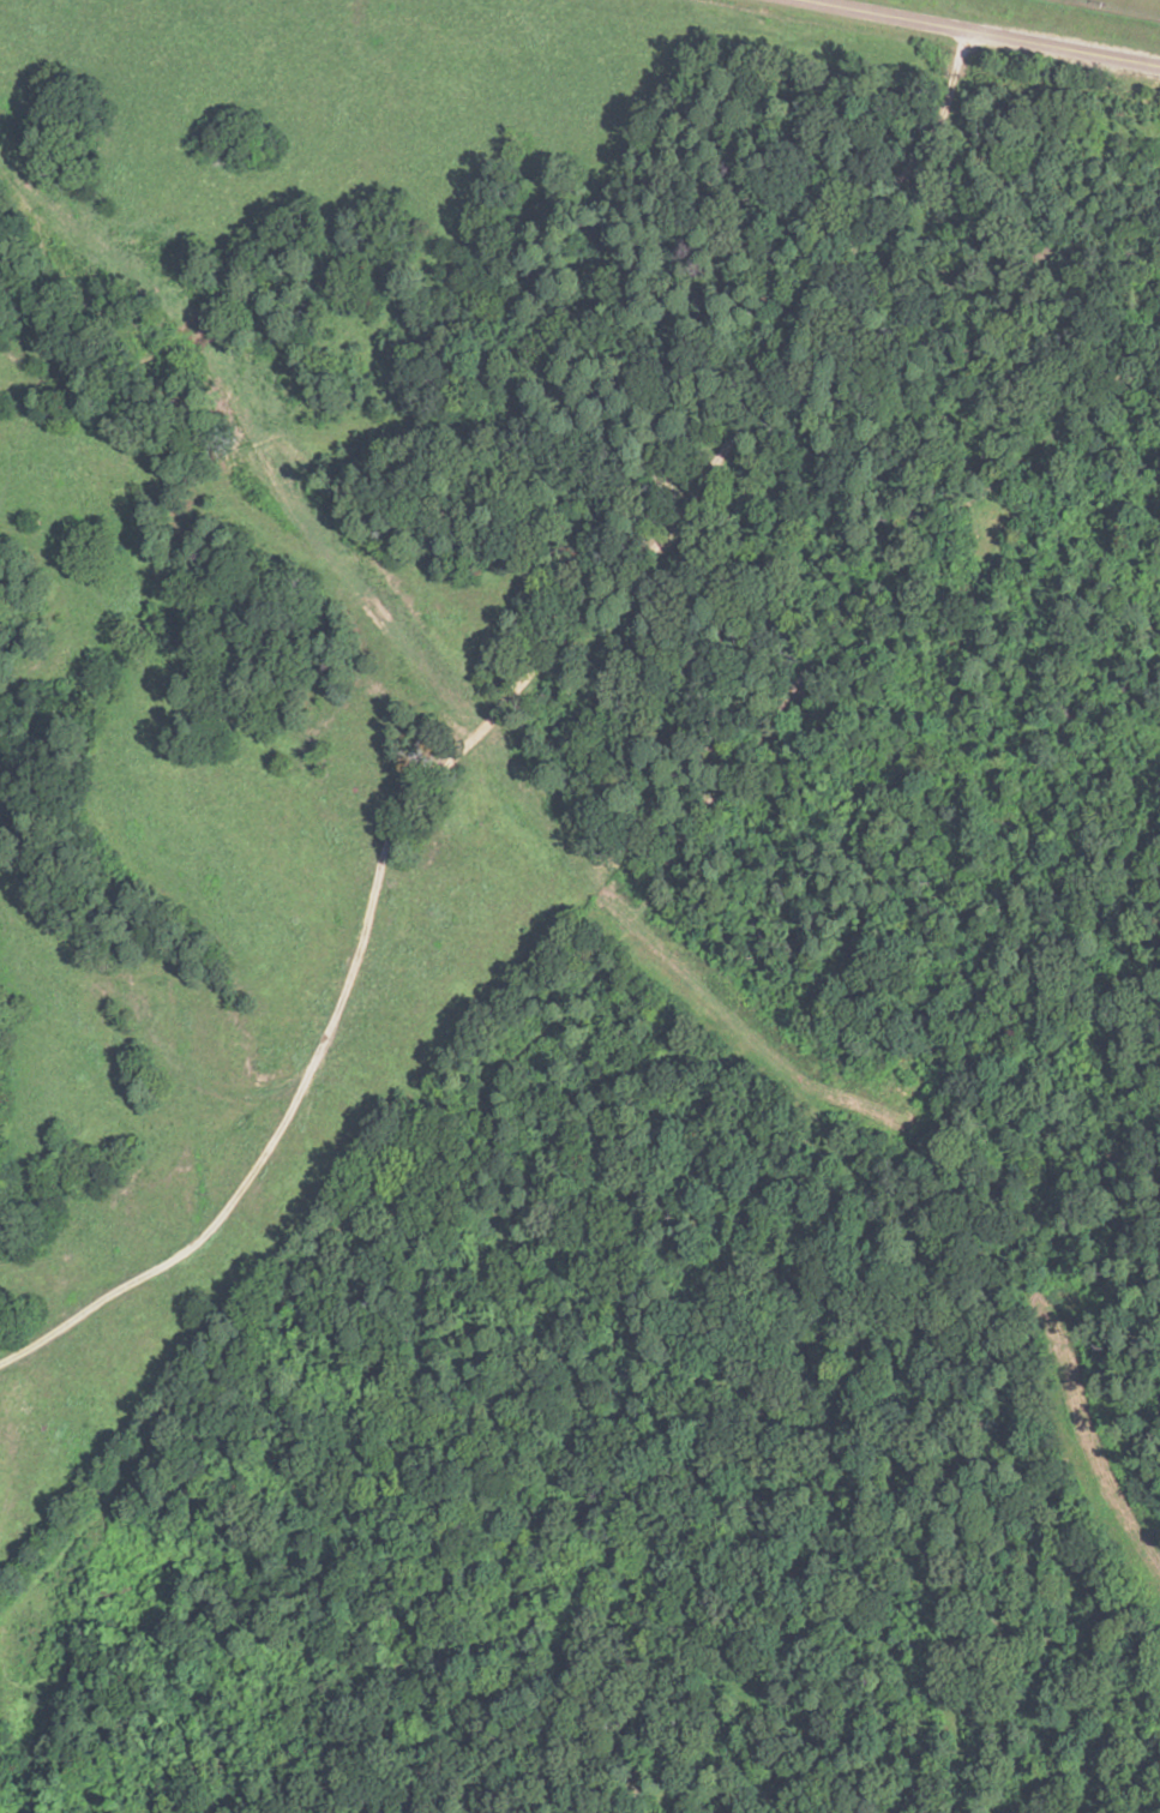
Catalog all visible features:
road: (982, 35)
building: (210, 134)
road: (50, 1289)
road: (645, 1609)

